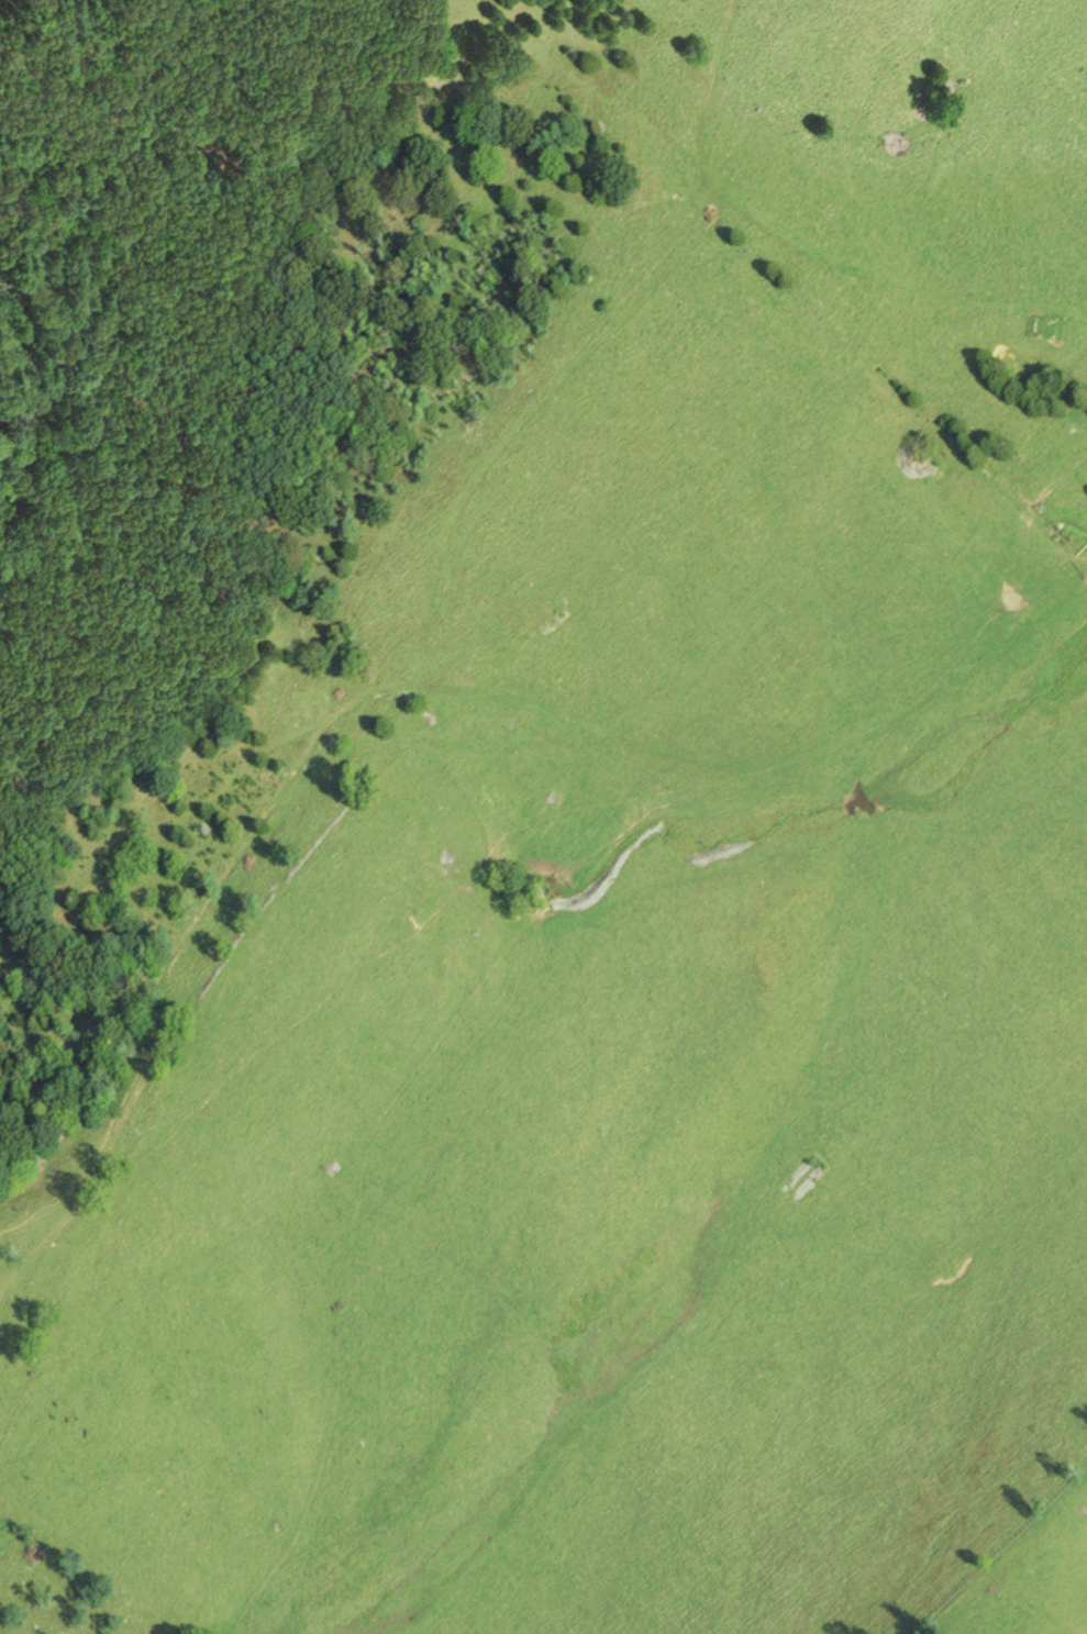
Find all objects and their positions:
road: (794, 249)
road: (330, 718)

